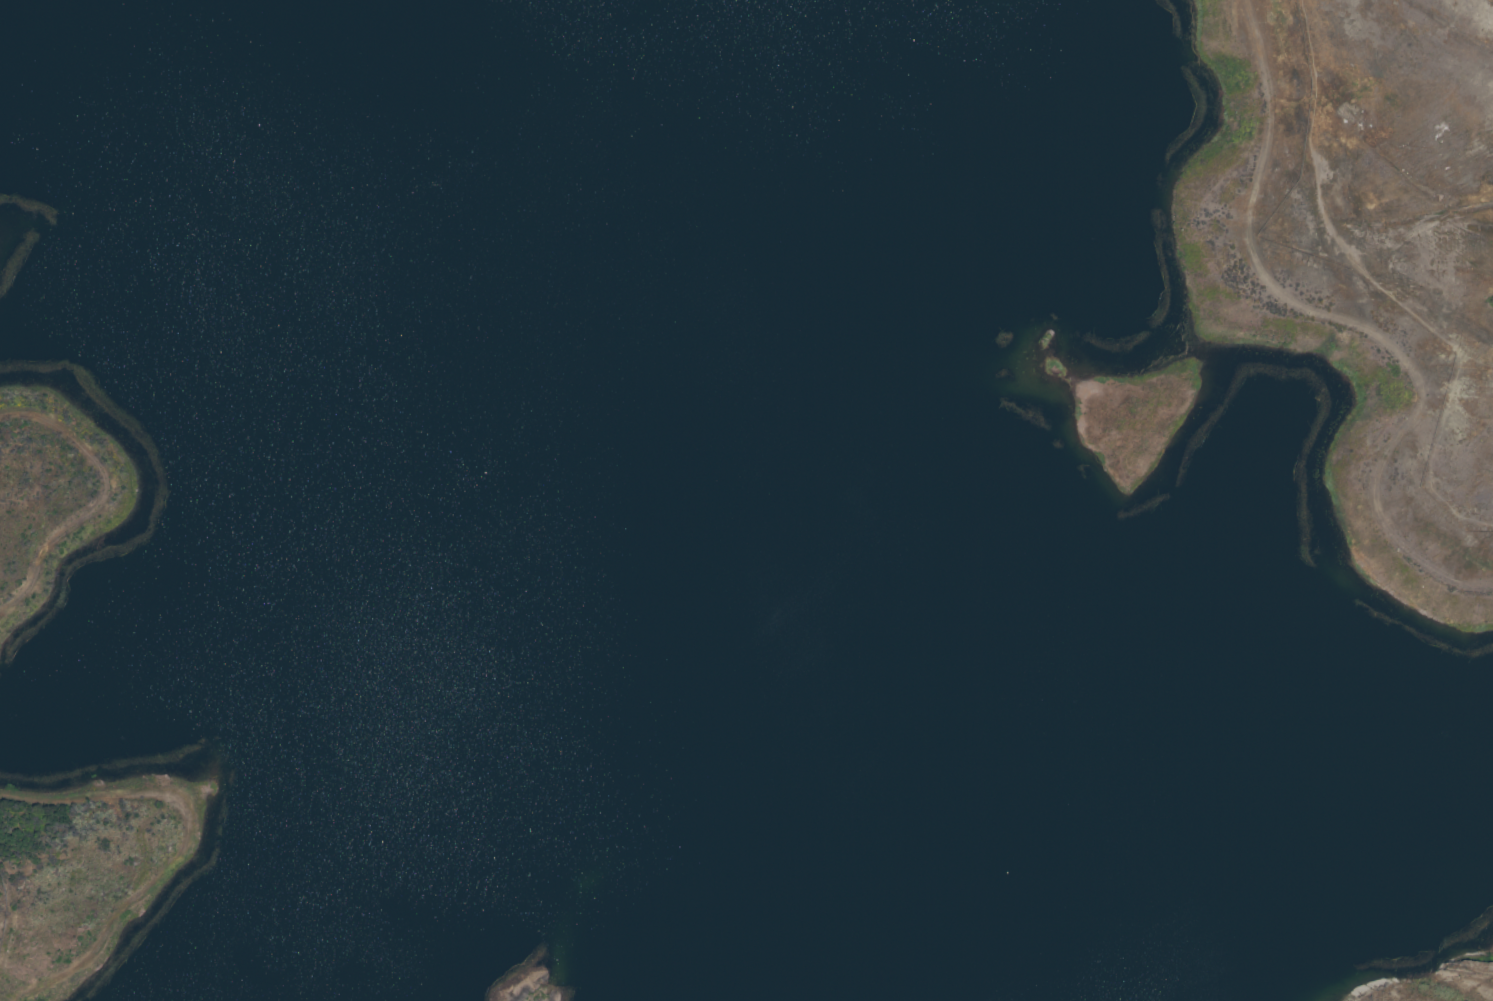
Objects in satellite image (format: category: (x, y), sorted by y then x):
road: (1382, 288)
road: (1319, 313)

